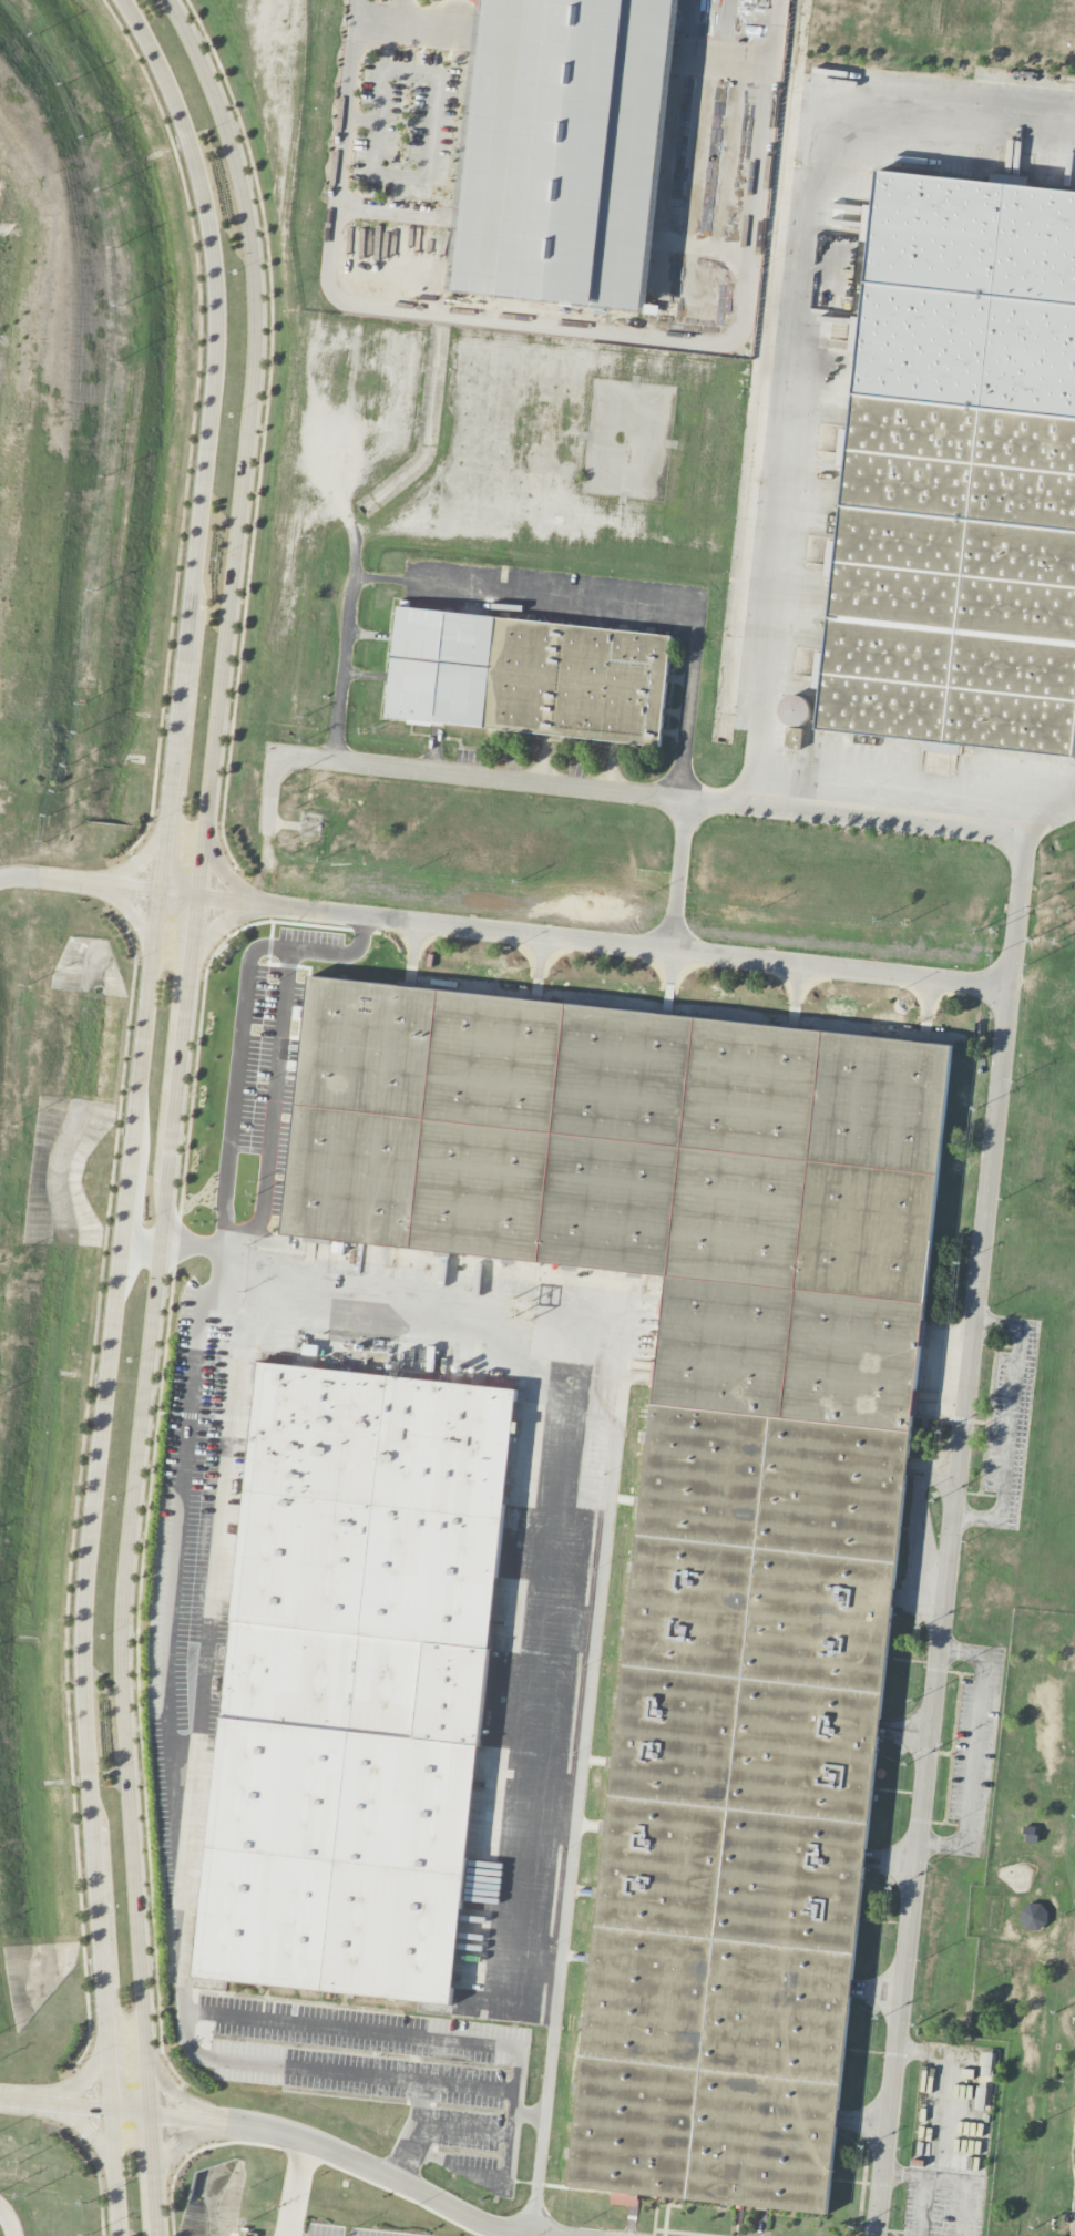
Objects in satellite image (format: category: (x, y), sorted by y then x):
road: (387, 17)
road: (952, 115)
building: (563, 150)
road: (556, 327)
road: (788, 455)
building: (962, 472)
road: (649, 605)
road: (348, 640)
building: (442, 664)
building: (580, 679)
building: (795, 711)
road: (648, 796)
road: (1050, 818)
road: (136, 861)
road: (222, 874)
road: (678, 876)
road: (133, 913)
road: (221, 922)
road: (505, 933)
road: (274, 945)
road: (278, 1096)
road: (136, 1108)
road: (175, 1109)
road: (238, 1117)
road: (426, 1310)
road: (1010, 1425)
building: (694, 1487)
road: (948, 1536)
building: (354, 1681)
road: (177, 1747)
road: (973, 1748)
road: (581, 1784)
road: (180, 1884)
building: (1033, 1917)
road: (219, 2014)
building: (987, 2068)
road: (72, 2089)
road: (177, 2095)
road: (84, 2127)
road: (465, 2131)
road: (417, 2132)
road: (284, 2133)
road: (191, 2140)
road: (490, 2182)
road: (925, 2184)
road: (296, 2187)
road: (965, 2189)
building: (1074, 2205)
road: (10, 2219)
building: (1073, 2232)
road: (530, 2235)

